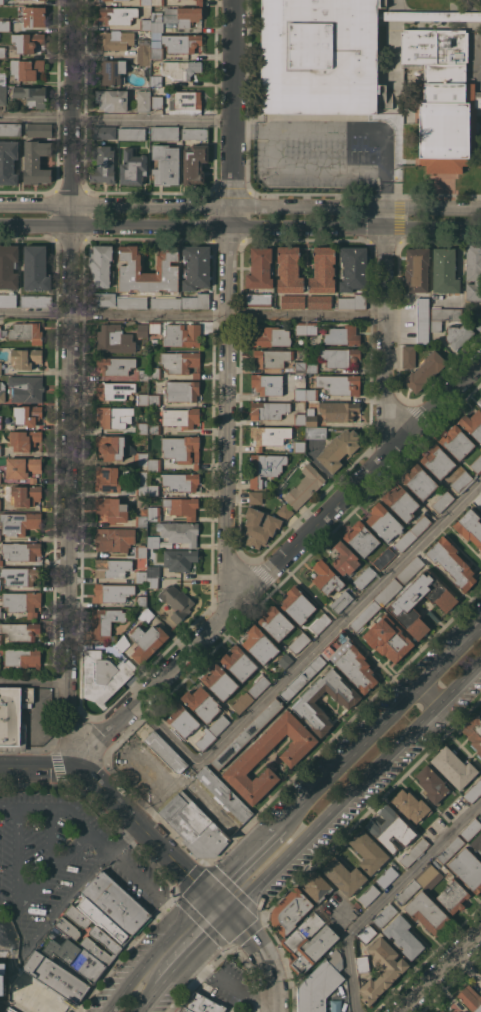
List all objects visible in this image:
building: (7, 1)
building: (145, 2)
building: (158, 2)
building: (199, 2)
building: (117, 14)
building: (34, 15)
building: (429, 15)
building: (176, 17)
building: (145, 23)
building: (4, 25)
building: (114, 39)
building: (26, 41)
building: (174, 43)
building: (144, 49)
building: (2, 51)
building: (320, 56)
building: (144, 59)
building: (26, 68)
building: (180, 68)
building: (113, 71)
building: (2, 78)
building: (156, 80)
building: (3, 94)
building: (33, 95)
building: (442, 97)
building: (112, 99)
building: (185, 99)
building: (143, 100)
building: (157, 101)
road: (116, 120)
road: (346, 126)
building: (10, 128)
building: (39, 129)
building: (104, 132)
building: (164, 132)
building: (131, 133)
building: (195, 133)
building: (36, 161)
building: (475, 161)
building: (8, 162)
building: (194, 163)
building: (103, 164)
building: (166, 164)
building: (133, 167)
road: (240, 205)
road: (240, 230)
building: (101, 265)
building: (9, 266)
building: (196, 266)
building: (353, 267)
building: (35, 268)
building: (260, 268)
building: (166, 269)
building: (289, 269)
building: (416, 269)
building: (132, 270)
building: (323, 270)
building: (444, 270)
building: (473, 272)
building: (101, 298)
building: (258, 298)
building: (8, 300)
building: (37, 300)
building: (132, 301)
building: (165, 301)
building: (196, 301)
building: (292, 301)
building: (319, 301)
building: (353, 301)
road: (230, 306)
building: (447, 314)
road: (191, 315)
building: (409, 320)
building: (476, 321)
building: (436, 325)
building: (155, 326)
building: (301, 328)
building: (142, 329)
building: (312, 329)
building: (26, 331)
building: (182, 334)
building: (458, 334)
building: (342, 335)
road: (381, 335)
building: (271, 336)
building: (114, 338)
building: (340, 356)
building: (408, 356)
building: (26, 358)
building: (278, 360)
building: (181, 362)
building: (115, 365)
building: (312, 366)
building: (0, 367)
building: (425, 370)
building: (154, 372)
building: (143, 374)
building: (152, 382)
building: (267, 383)
building: (340, 383)
road: (72, 384)
building: (26, 388)
building: (114, 389)
building: (182, 390)
building: (2, 392)
building: (300, 393)
building: (312, 394)
building: (142, 398)
building: (154, 399)
building: (480, 401)
building: (269, 409)
building: (339, 410)
building: (27, 414)
building: (114, 416)
building: (181, 416)
building: (311, 417)
building: (299, 418)
building: (1, 422)
building: (472, 423)
building: (142, 427)
building: (154, 428)
building: (315, 432)
building: (269, 435)
building: (24, 439)
building: (456, 441)
building: (111, 446)
building: (299, 446)
building: (182, 448)
building: (339, 448)
building: (0, 449)
building: (141, 458)
building: (438, 461)
building: (154, 464)
building: (476, 464)
building: (23, 466)
building: (265, 467)
building: (0, 476)
building: (107, 478)
building: (33, 479)
building: (181, 481)
building: (419, 481)
building: (462, 481)
building: (141, 482)
building: (304, 486)
building: (153, 489)
building: (26, 495)
building: (255, 497)
building: (442, 501)
building: (477, 501)
building: (401, 502)
building: (0, 504)
building: (181, 506)
building: (112, 508)
building: (285, 511)
building: (154, 513)
building: (141, 520)
building: (384, 521)
building: (19, 522)
building: (420, 524)
building: (469, 526)
building: (260, 527)
building: (181, 532)
building: (0, 538)
building: (114, 538)
building: (361, 538)
building: (405, 540)
building: (153, 541)
building: (21, 550)
building: (140, 552)
building: (345, 558)
building: (384, 558)
building: (179, 559)
building: (1, 562)
building: (452, 562)
road: (276, 567)
building: (121, 568)
building: (410, 569)
building: (154, 571)
building: (20, 575)
building: (326, 577)
building: (365, 577)
building: (153, 582)
building: (0, 586)
building: (112, 592)
building: (388, 592)
building: (140, 600)
building: (22, 601)
building: (176, 601)
building: (341, 601)
building: (297, 604)
building: (403, 604)
building: (1, 614)
building: (146, 615)
building: (364, 615)
building: (433, 615)
building: (104, 622)
building: (275, 622)
building: (320, 622)
road: (346, 628)
building: (21, 630)
building: (388, 638)
building: (0, 639)
building: (147, 641)
building: (299, 642)
building: (123, 643)
building: (260, 644)
road: (308, 654)
building: (23, 657)
building: (285, 660)
building: (350, 660)
building: (238, 662)
building: (102, 676)
building: (302, 678)
building: (219, 681)
road: (33, 682)
building: (258, 684)
road: (433, 691)
building: (242, 702)
building: (306, 702)
building: (201, 703)
building: (480, 711)
road: (143, 712)
building: (11, 713)
road: (113, 713)
building: (182, 720)
road: (382, 721)
building: (219, 724)
building: (247, 732)
building: (474, 733)
road: (57, 738)
building: (205, 739)
road: (454, 741)
building: (160, 749)
building: (245, 762)
building: (454, 766)
road: (308, 773)
building: (432, 783)
road: (353, 787)
building: (473, 791)
building: (223, 795)
road: (116, 801)
building: (410, 804)
road: (62, 808)
building: (480, 813)
road: (150, 816)
road: (355, 816)
building: (193, 827)
building: (391, 828)
building: (471, 829)
road: (48, 835)
building: (476, 841)
building: (450, 848)
building: (368, 851)
building: (414, 851)
road: (244, 855)
road: (110, 859)
road: (157, 864)
road: (50, 868)
building: (467, 868)
building: (344, 876)
building: (387, 876)
building: (429, 877)
building: (317, 889)
building: (408, 891)
traffic signals: (205, 893)
building: (368, 894)
road: (388, 896)
building: (453, 896)
building: (114, 903)
road: (217, 904)
road: (190, 910)
road: (163, 911)
building: (427, 912)
building: (289, 913)
building: (385, 914)
traffic signals: (229, 916)
building: (102, 921)
road: (3, 925)
road: (10, 930)
building: (93, 931)
building: (367, 933)
building: (56, 934)
building: (403, 936)
road: (206, 937)
building: (282, 938)
building: (84, 942)
building: (309, 943)
road: (171, 946)
road: (223, 949)
road: (277, 953)
road: (263, 958)
building: (75, 959)
building: (362, 963)
road: (433, 964)
road: (138, 968)
road: (172, 972)
building: (392, 972)
road: (438, 972)
building: (55, 977)
road: (226, 984)
building: (320, 984)
parking lot: (34, 995)
road: (37, 998)
road: (150, 998)
building: (471, 998)
building: (202, 1005)
building: (180, 1009)
building: (9, 1010)
building: (442, 1011)
building: (457, 1011)

